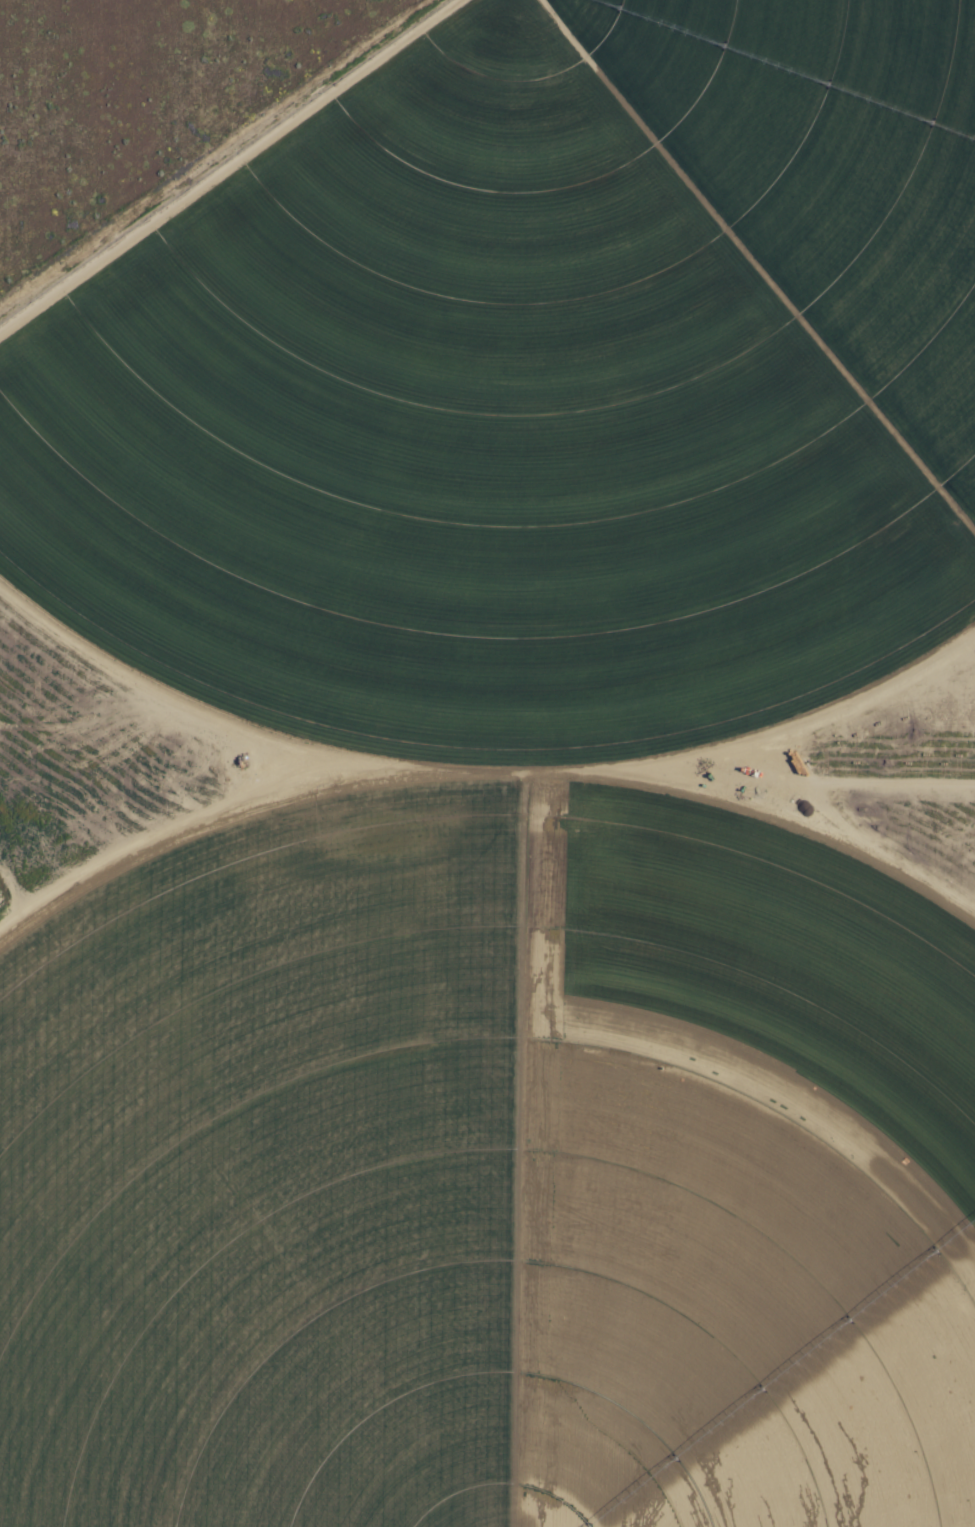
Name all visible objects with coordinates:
crop: (509, 795)

